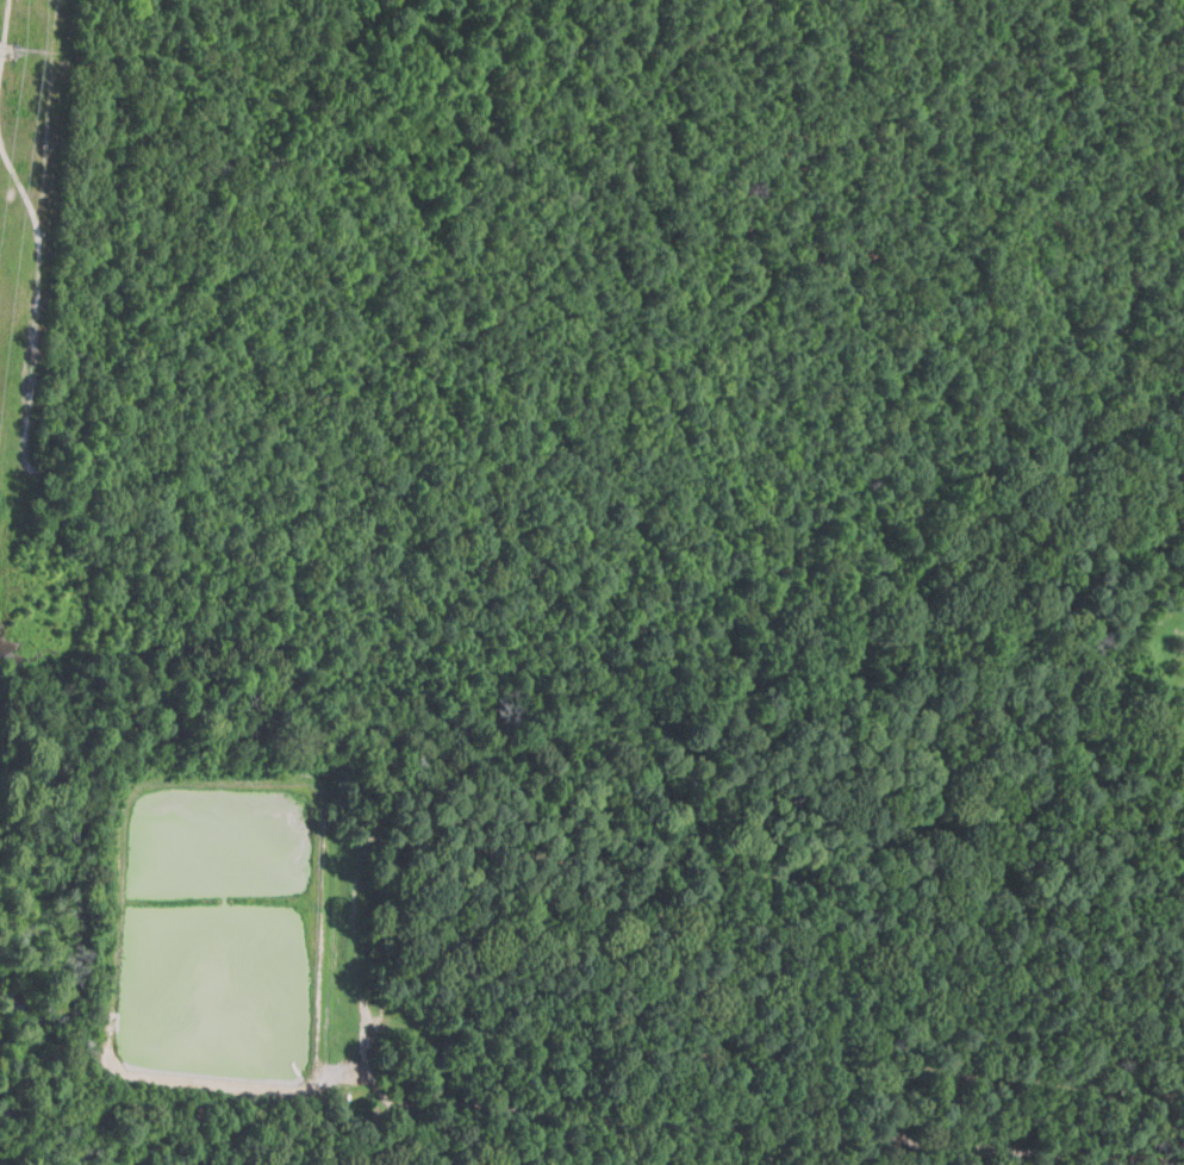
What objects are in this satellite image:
power tower: (6, 51)

